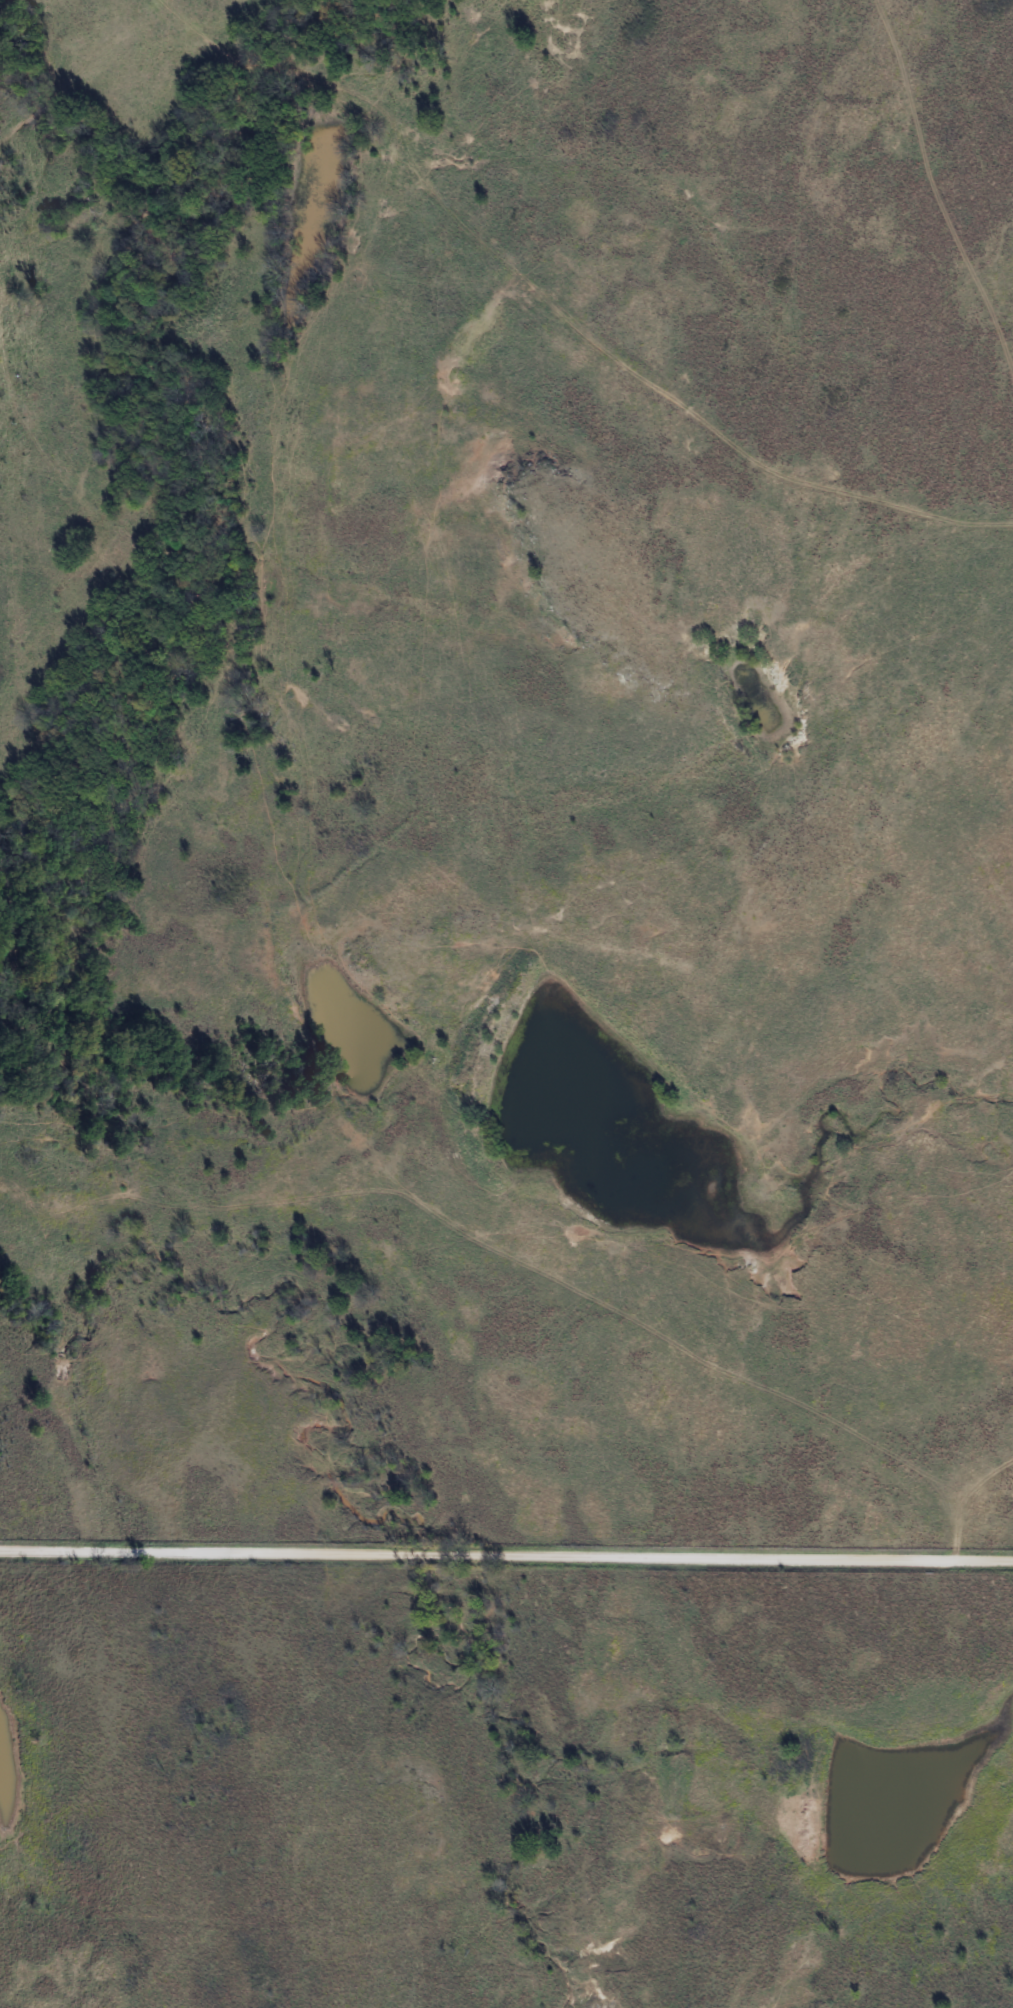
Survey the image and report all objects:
road: (506, 1553)

